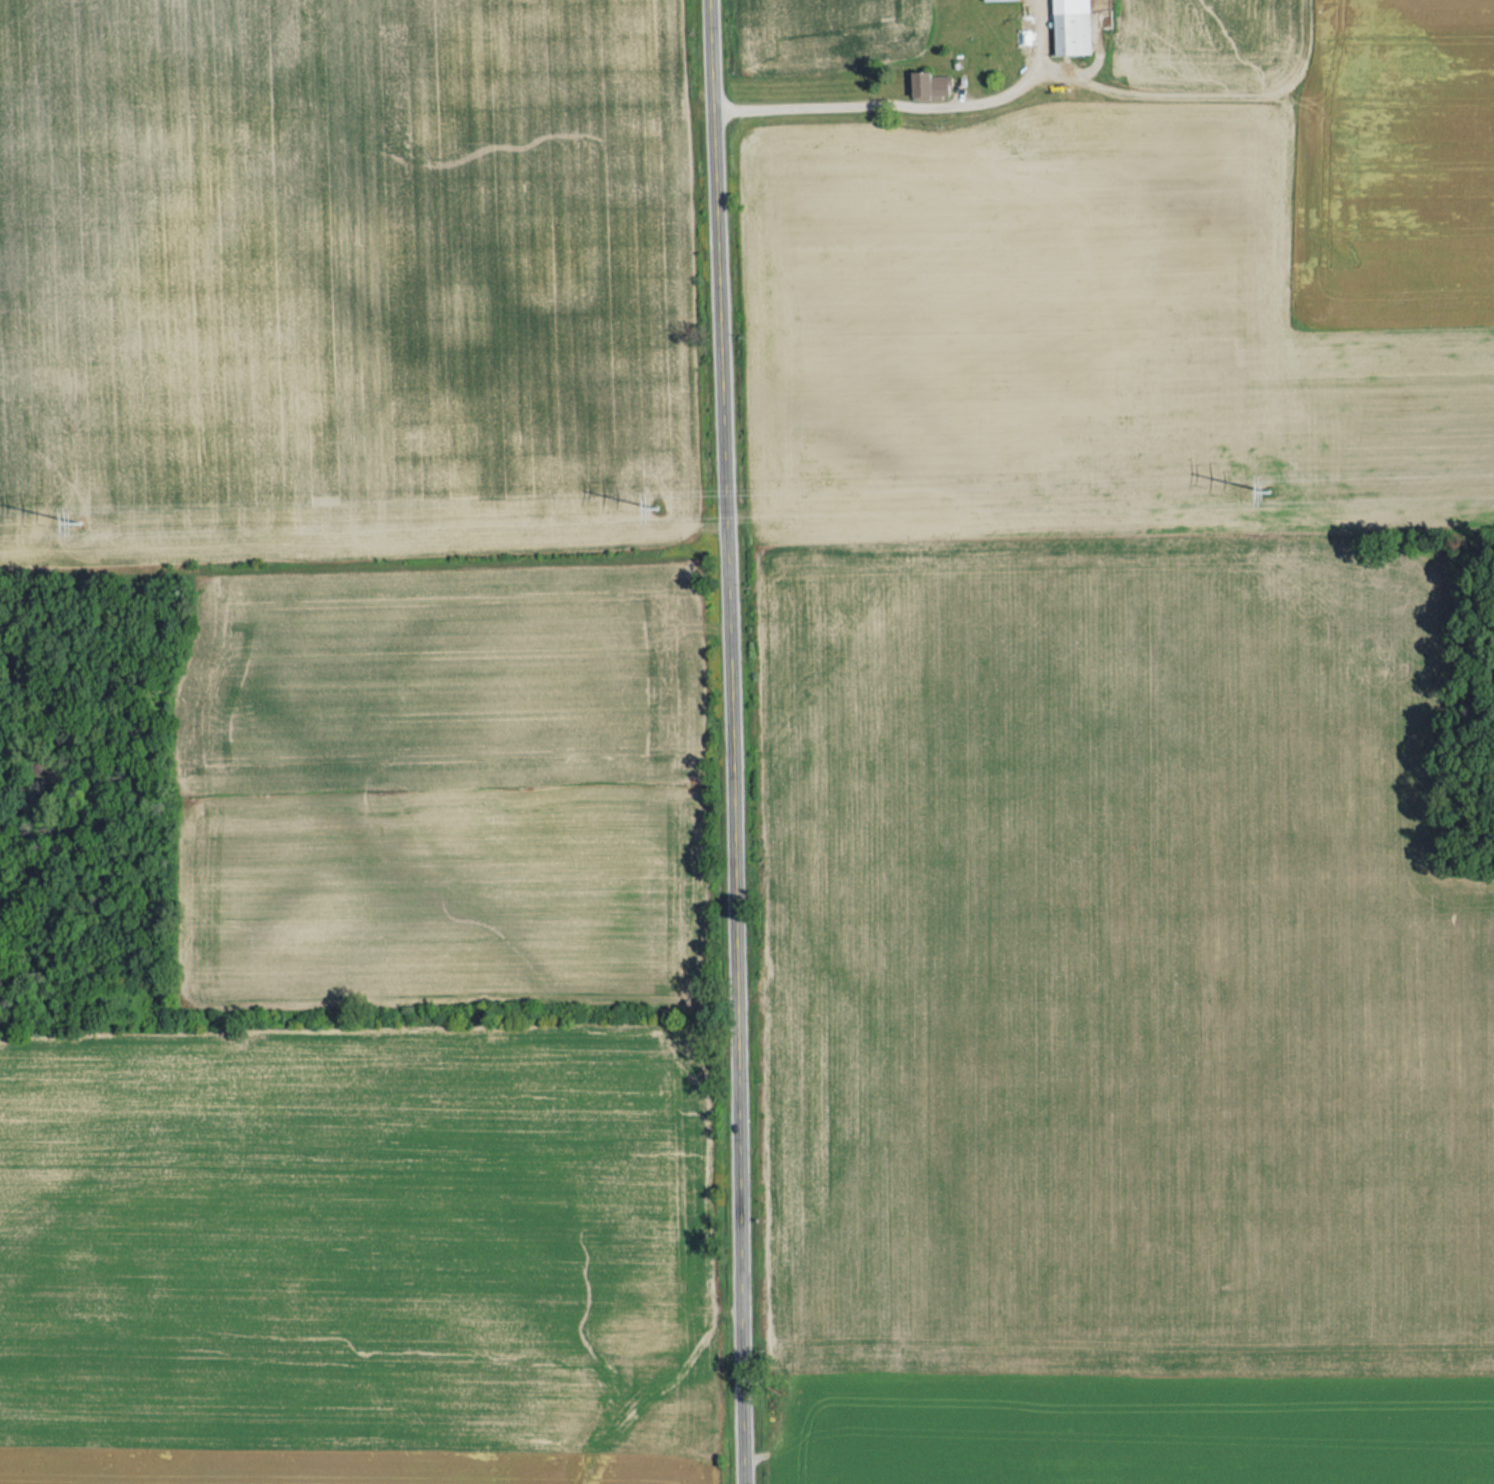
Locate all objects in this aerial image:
building: (989, 0)
building: (1074, 24)
building: (930, 80)
road: (906, 105)
power tower: (1266, 492)
power tower: (658, 513)
power tower: (80, 520)
road: (734, 741)

